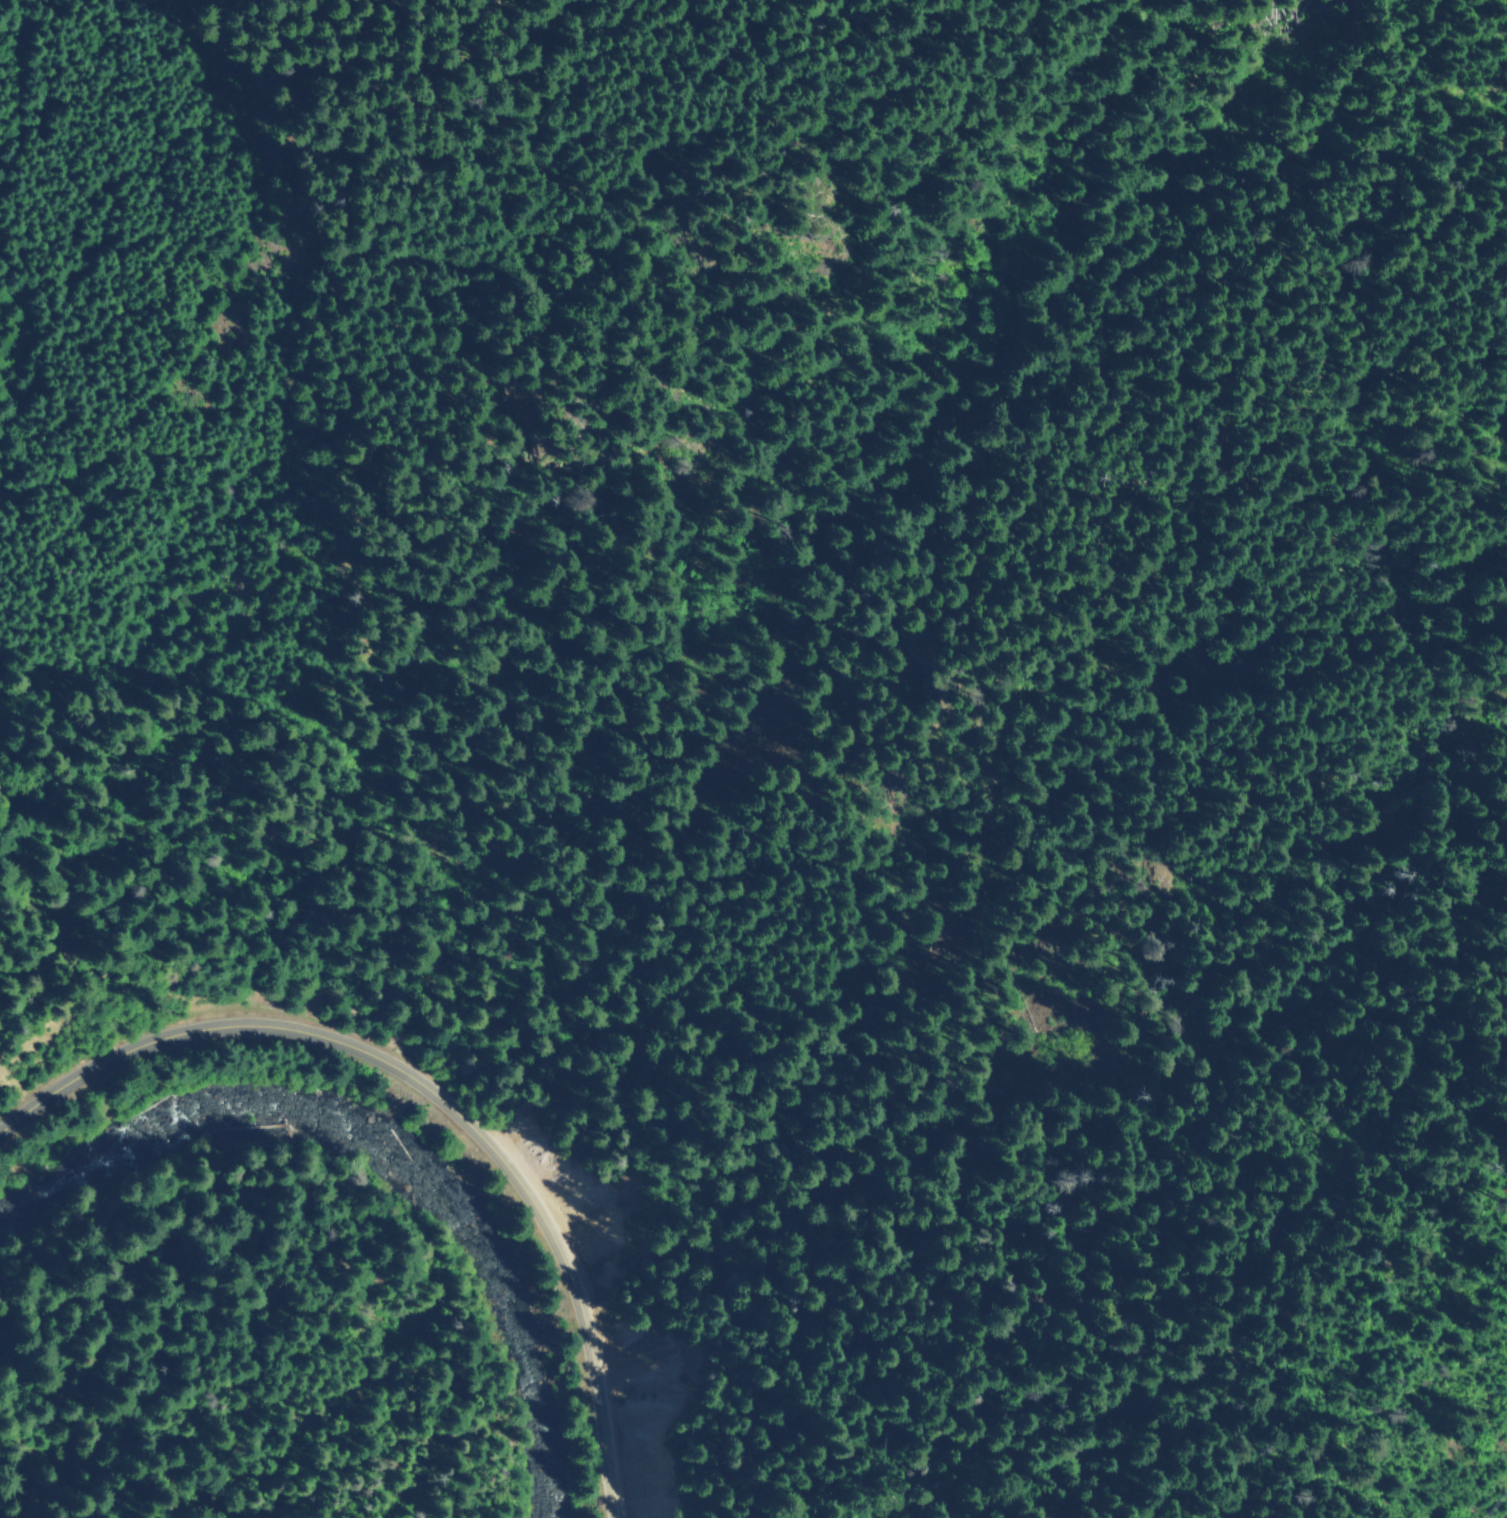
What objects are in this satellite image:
road: (435, 1090)
river: (372, 1171)

